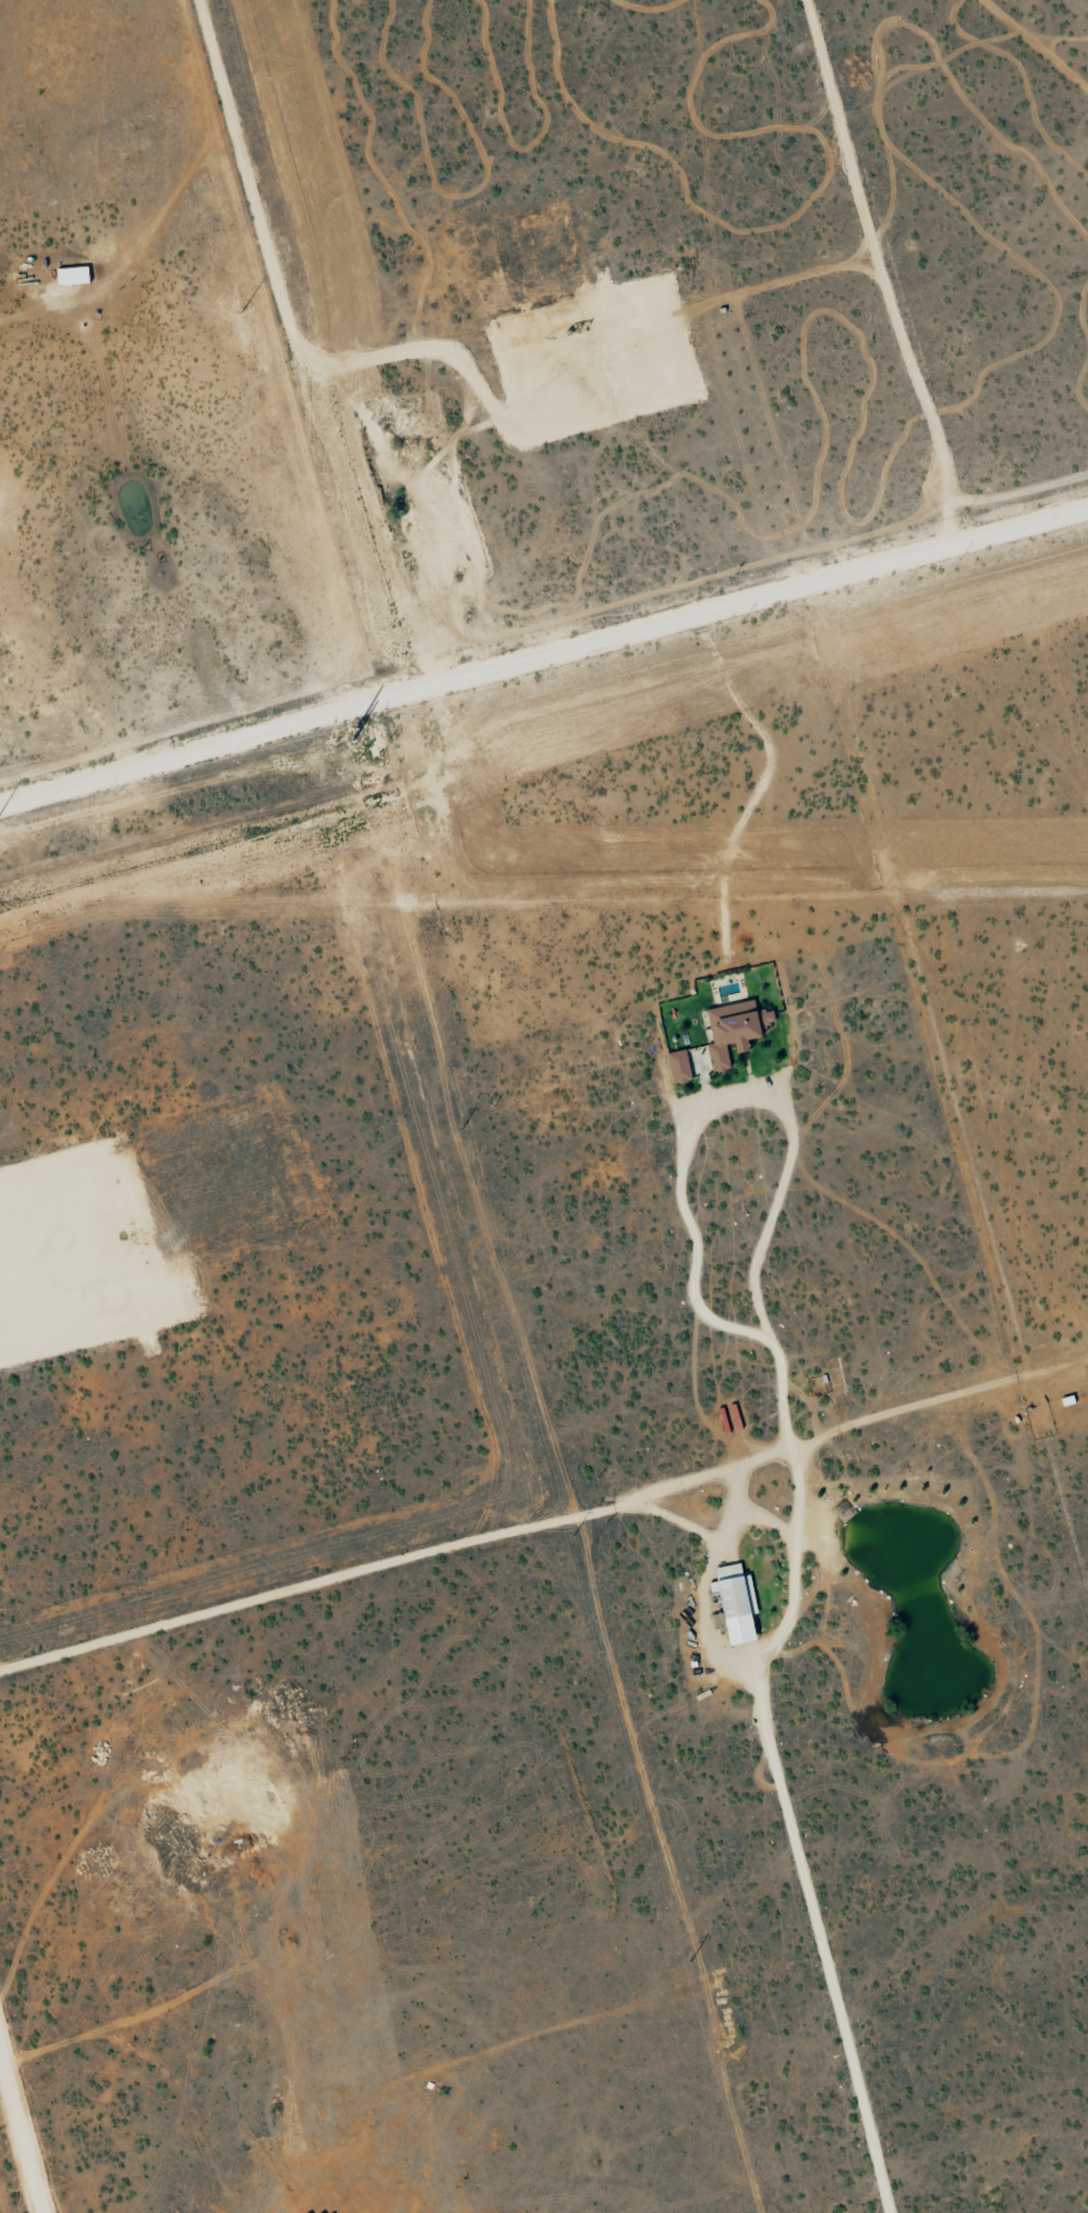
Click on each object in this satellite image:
building: (70, 277)
road: (903, 325)
road: (483, 664)
power tower: (349, 727)
building: (732, 1030)
building: (697, 1062)
building: (676, 1067)
power tower: (461, 1128)
road: (772, 1453)
road: (738, 1509)
road: (769, 1522)
power tower: (572, 1535)
road: (705, 1576)
building: (733, 1604)
power tower: (690, 1959)
road: (21, 2128)
building: (319, 2212)

